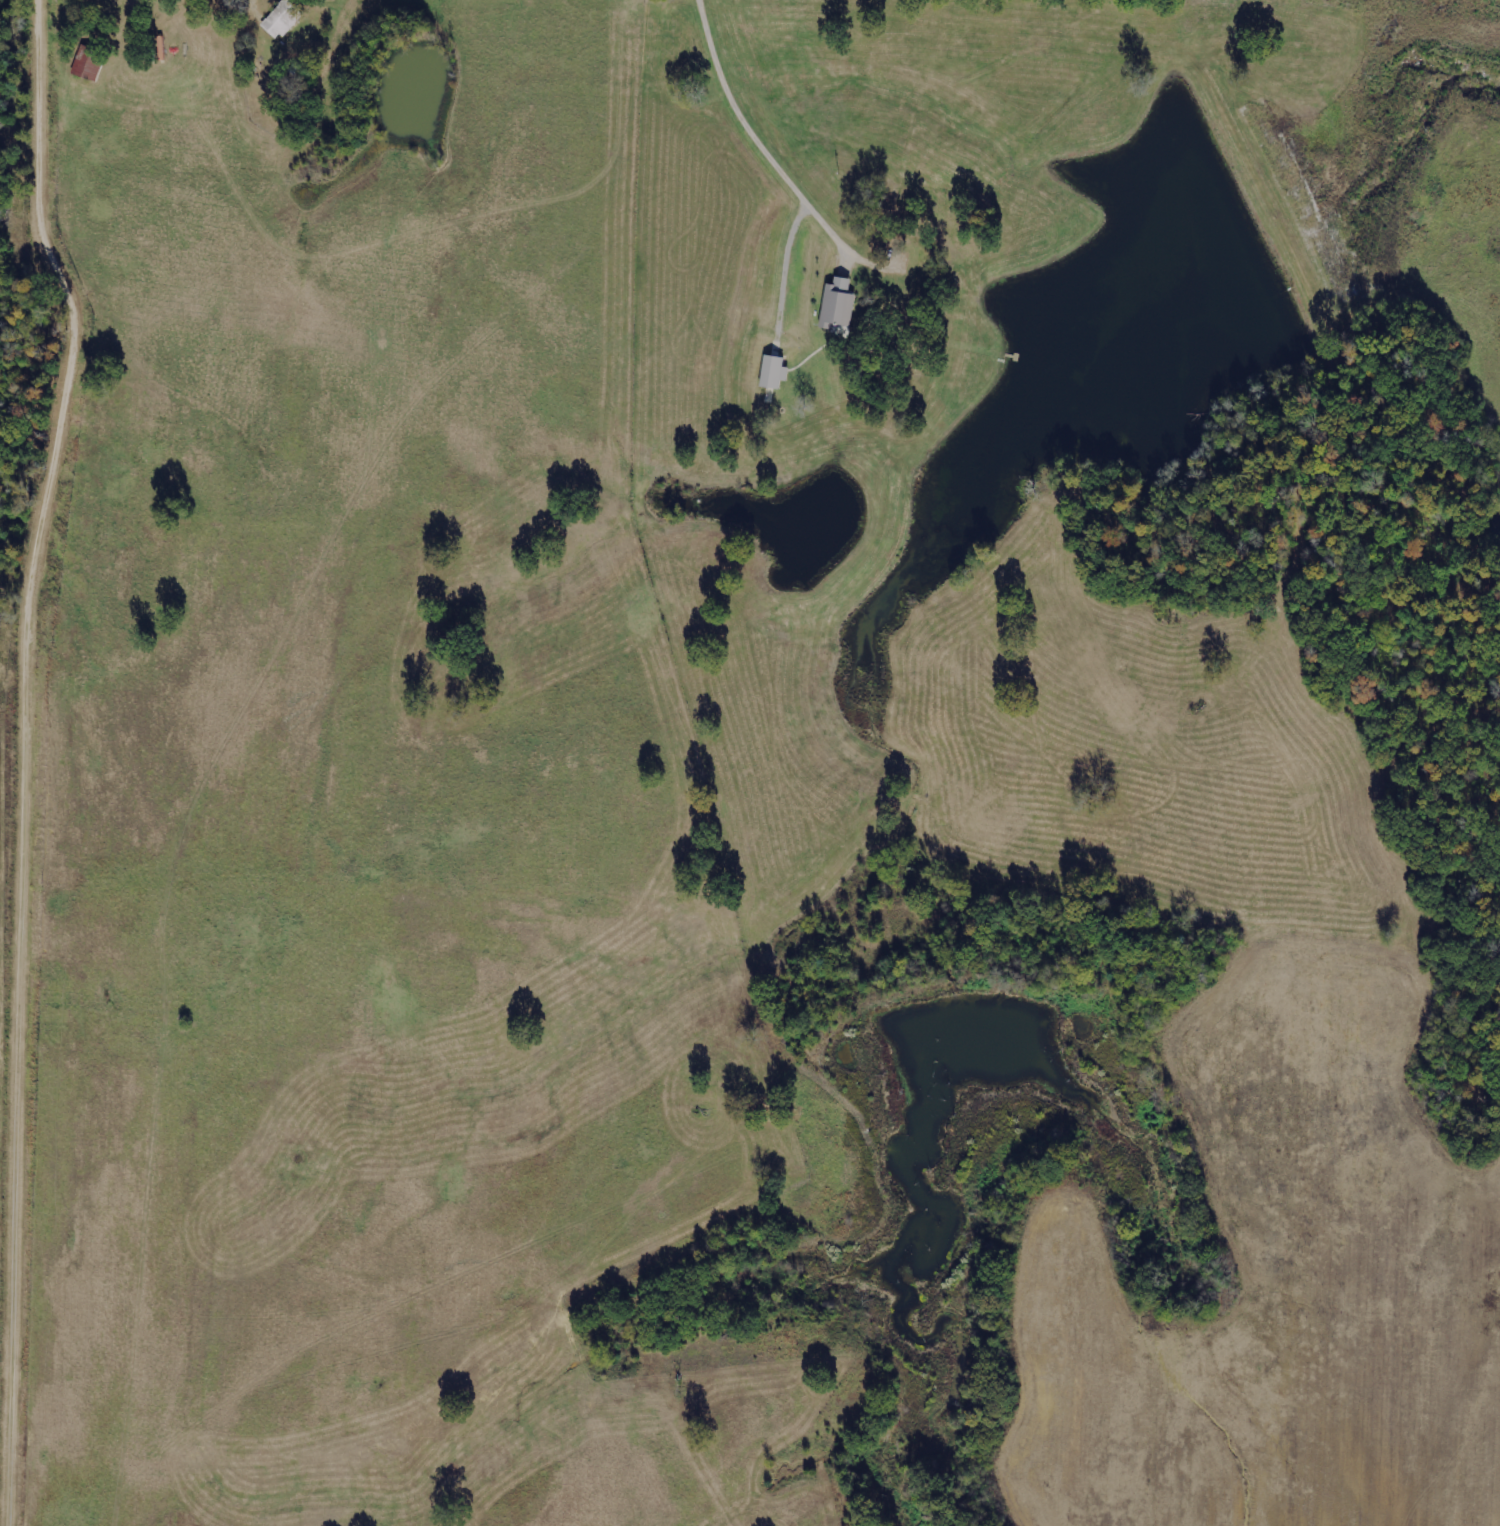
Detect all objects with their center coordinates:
building: (775, 371)
road: (98, 475)
road: (29, 1242)
road: (1121, 1340)

